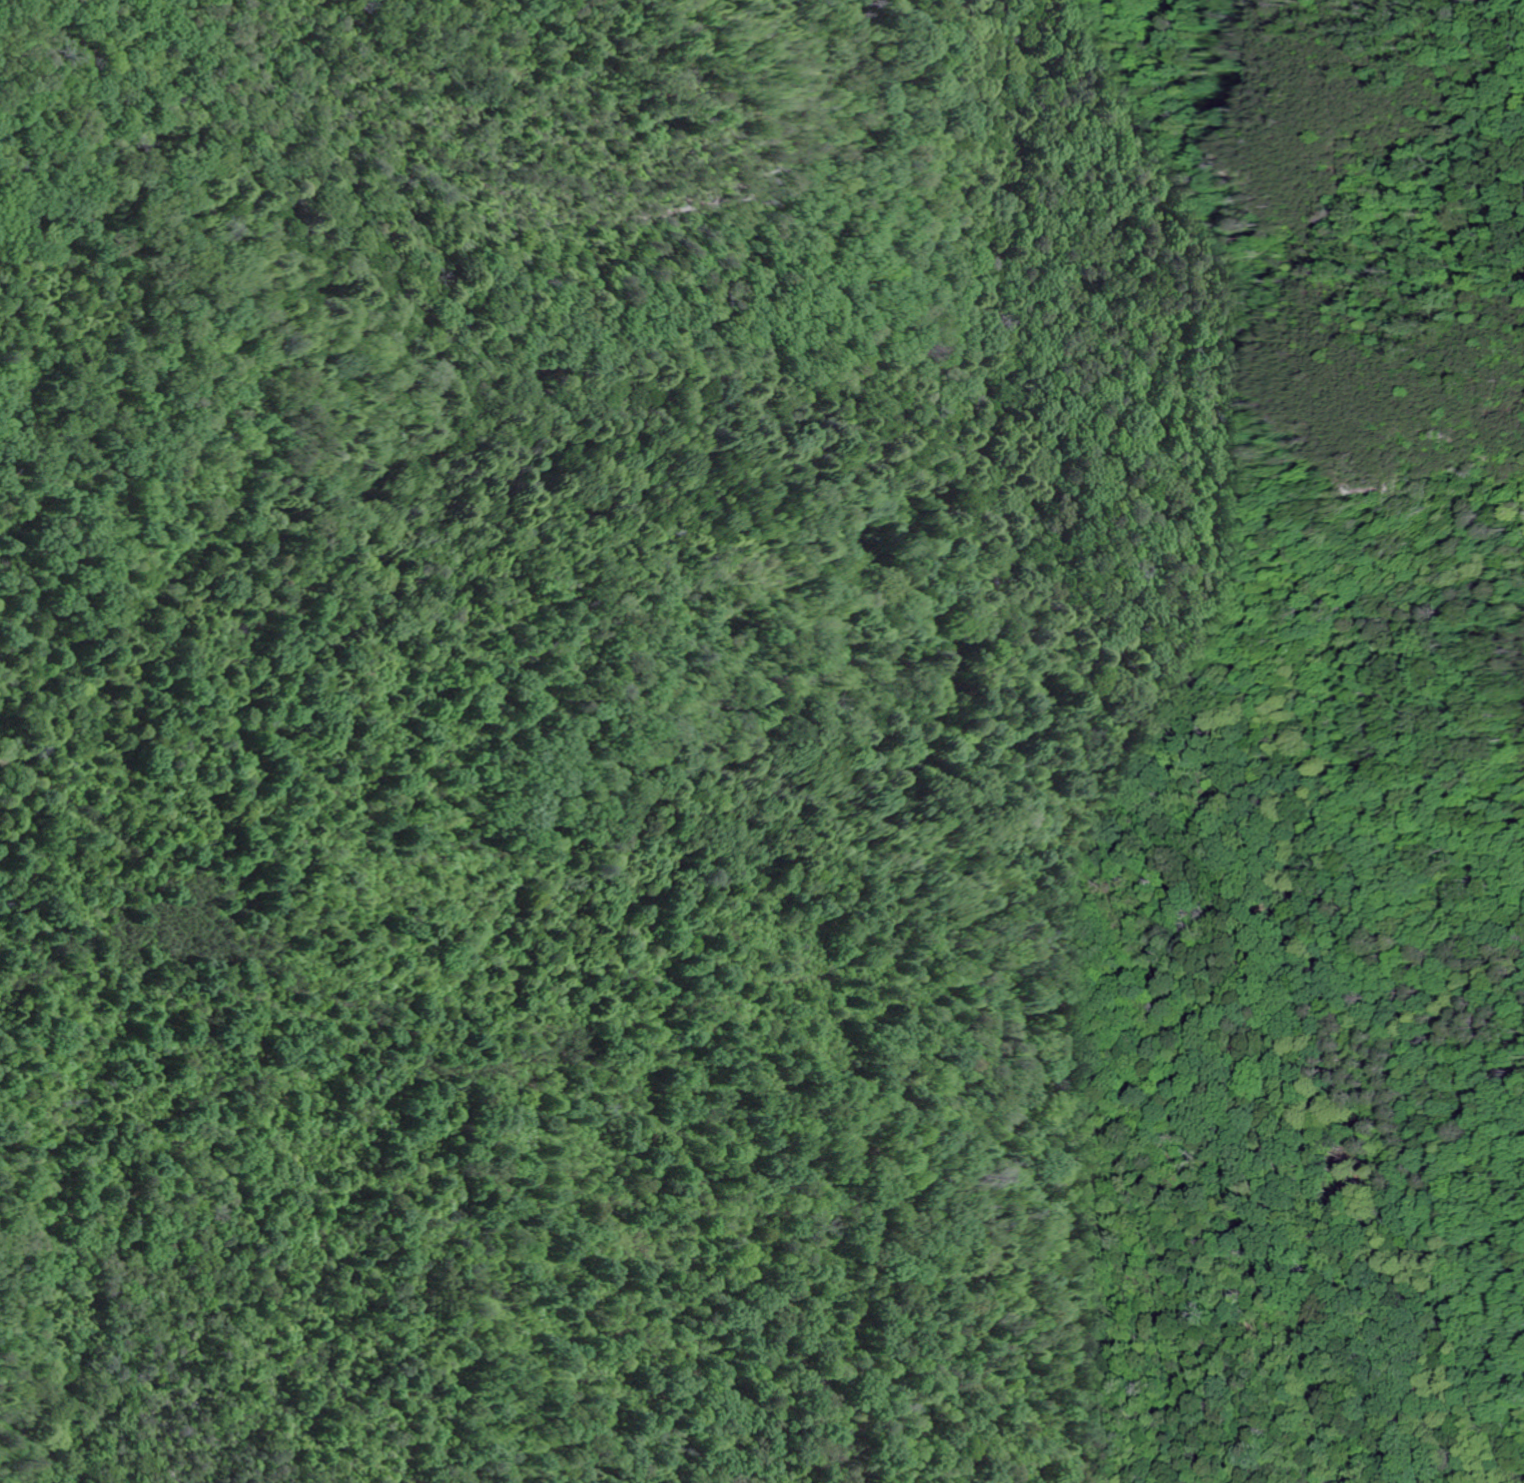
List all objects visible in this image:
road: (525, 1028)

